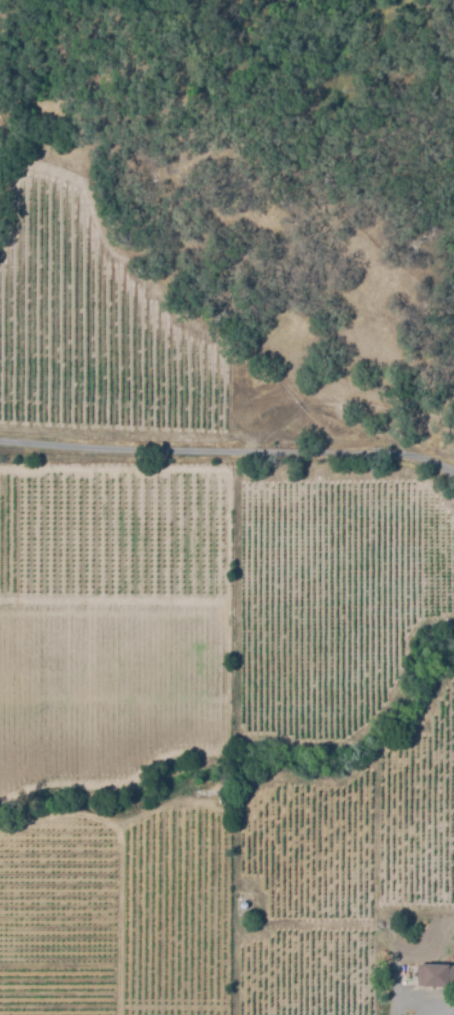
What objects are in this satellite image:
road: (228, 452)
building: (242, 901)
building: (435, 975)
road: (426, 1008)

